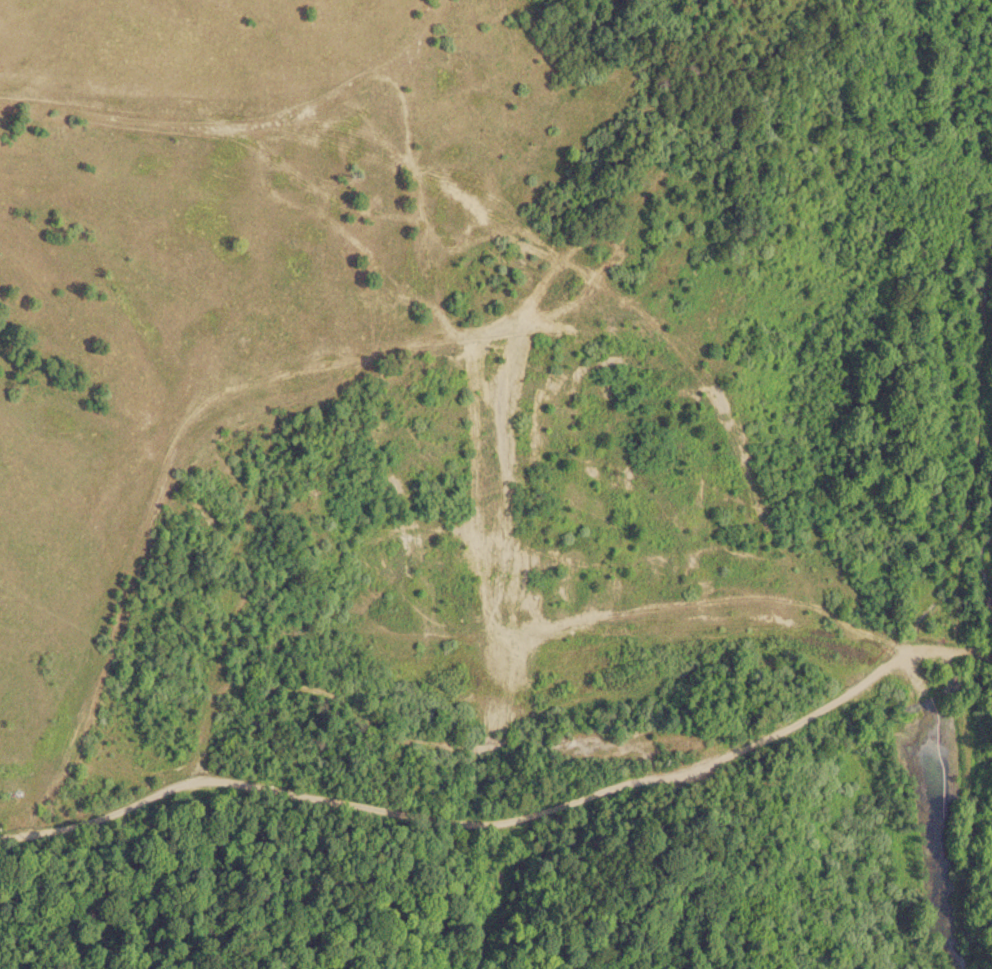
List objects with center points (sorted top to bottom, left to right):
road: (654, 319)
road: (479, 716)

